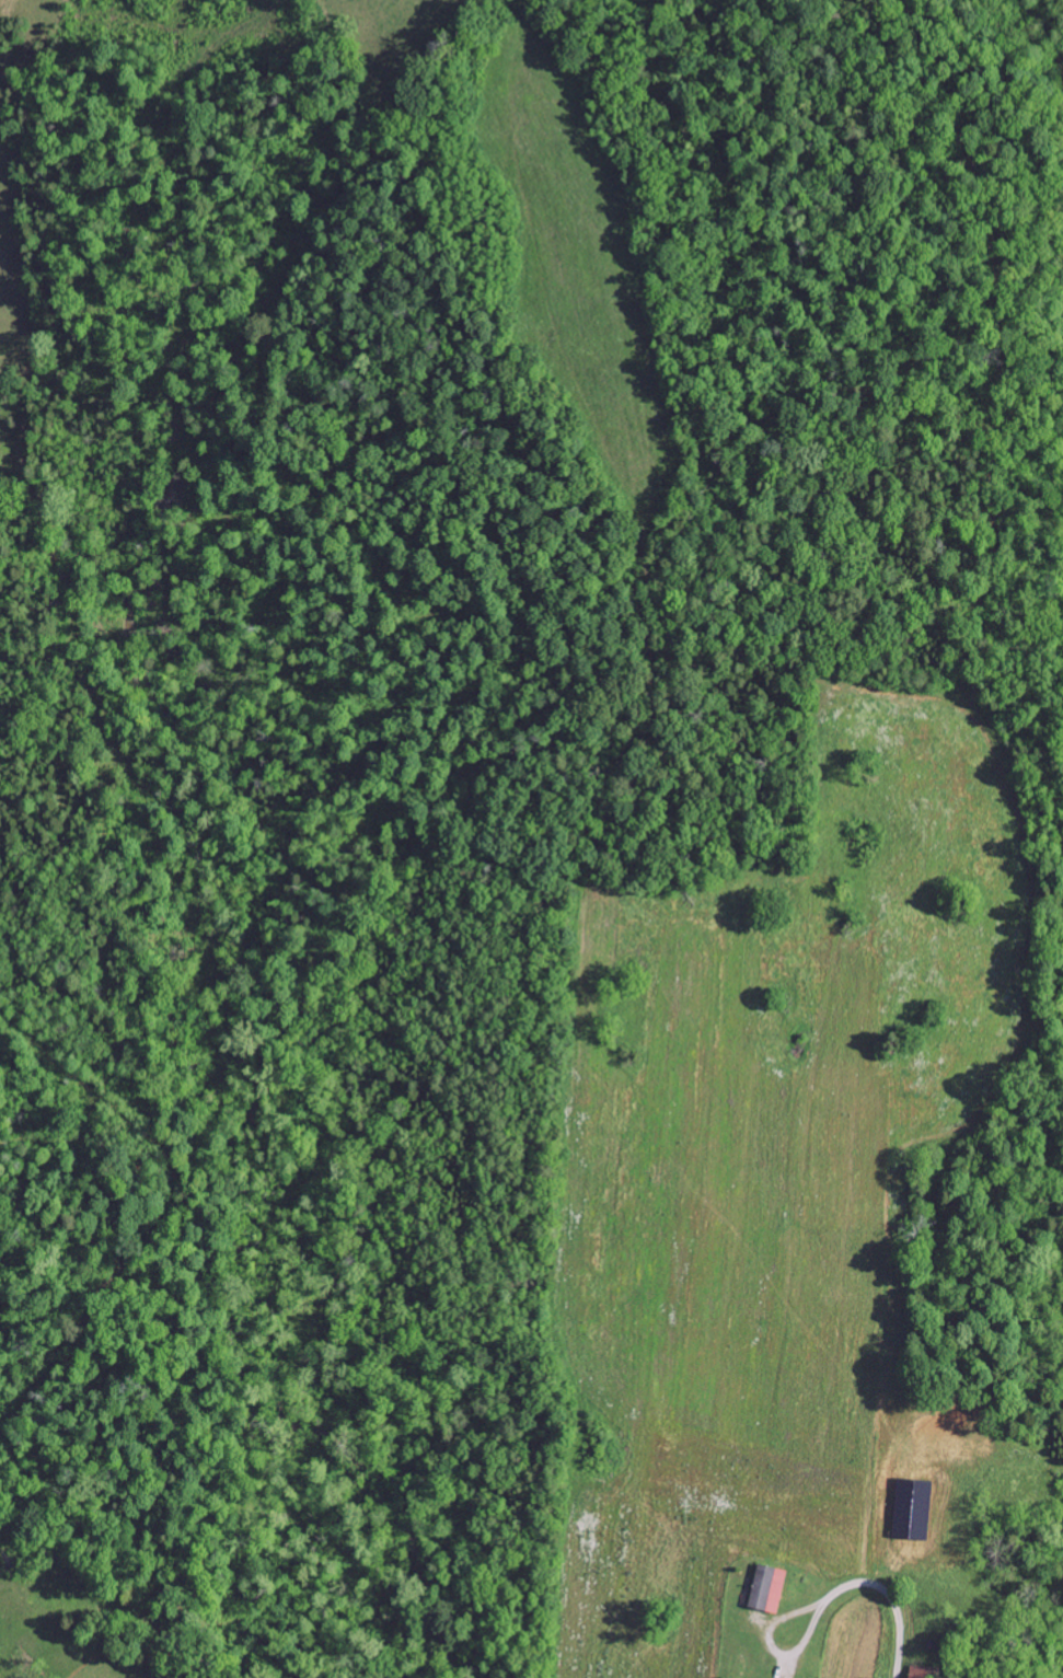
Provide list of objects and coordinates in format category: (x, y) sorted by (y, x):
building: (770, 1588)
building: (922, 1676)

